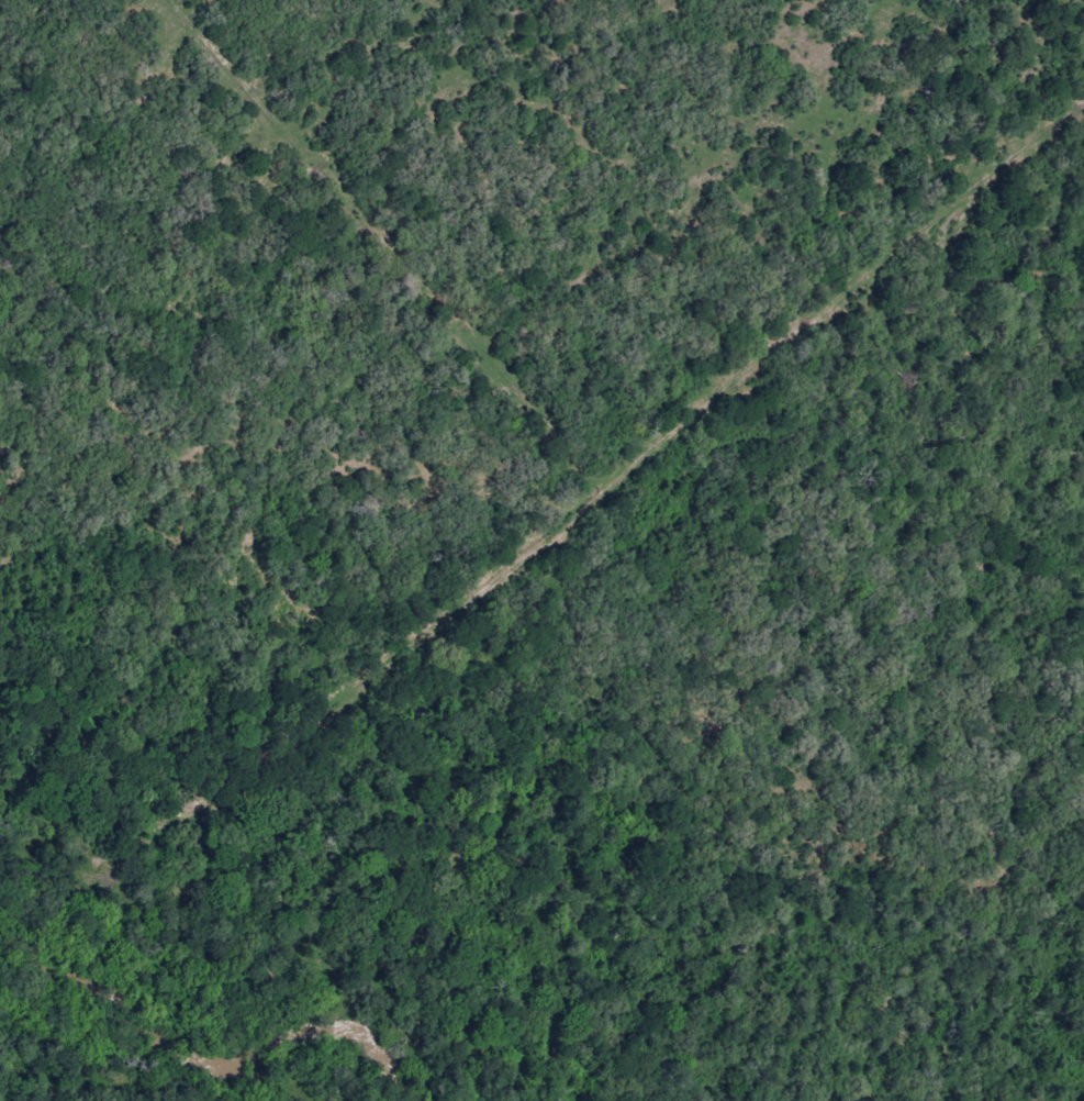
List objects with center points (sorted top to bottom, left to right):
river: (202, 1055)

